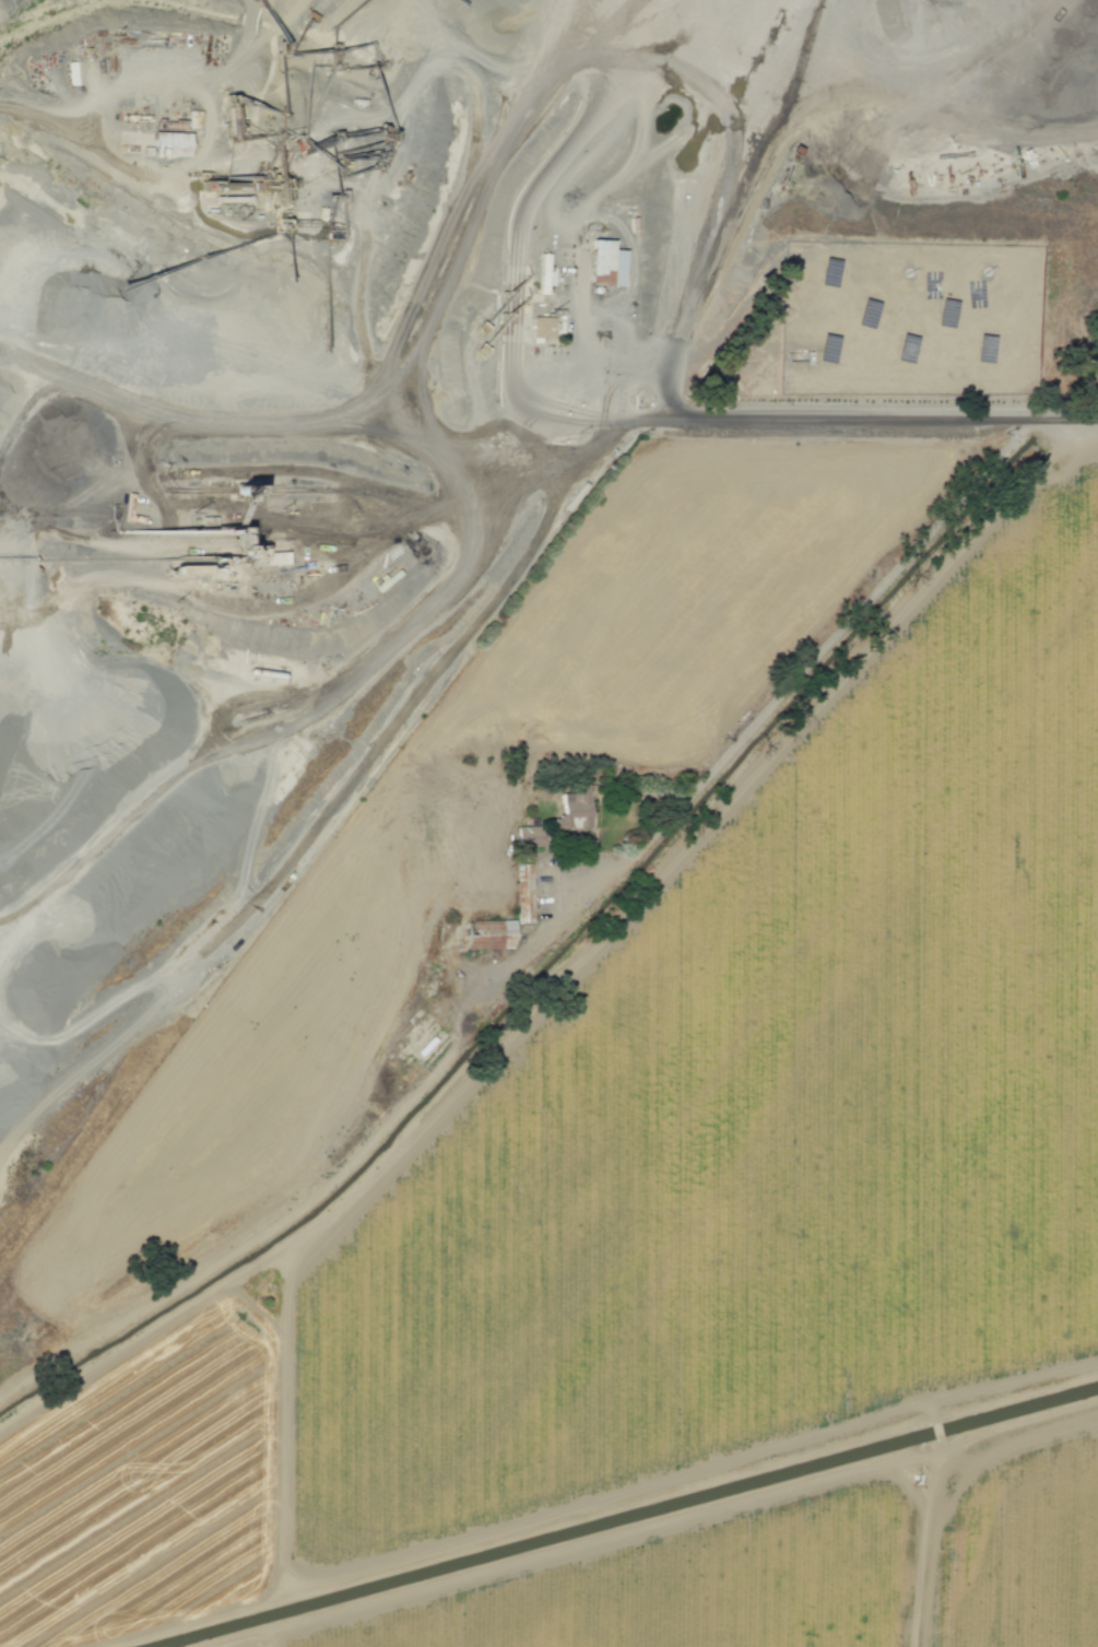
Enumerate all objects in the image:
building: (71, 74)
building: (170, 145)
building: (606, 264)
building: (544, 328)
road: (622, 364)
road: (644, 415)
road: (876, 417)
quarry: (425, 455)
road: (813, 657)
building: (575, 810)
building: (530, 836)
building: (524, 893)
building: (491, 936)

